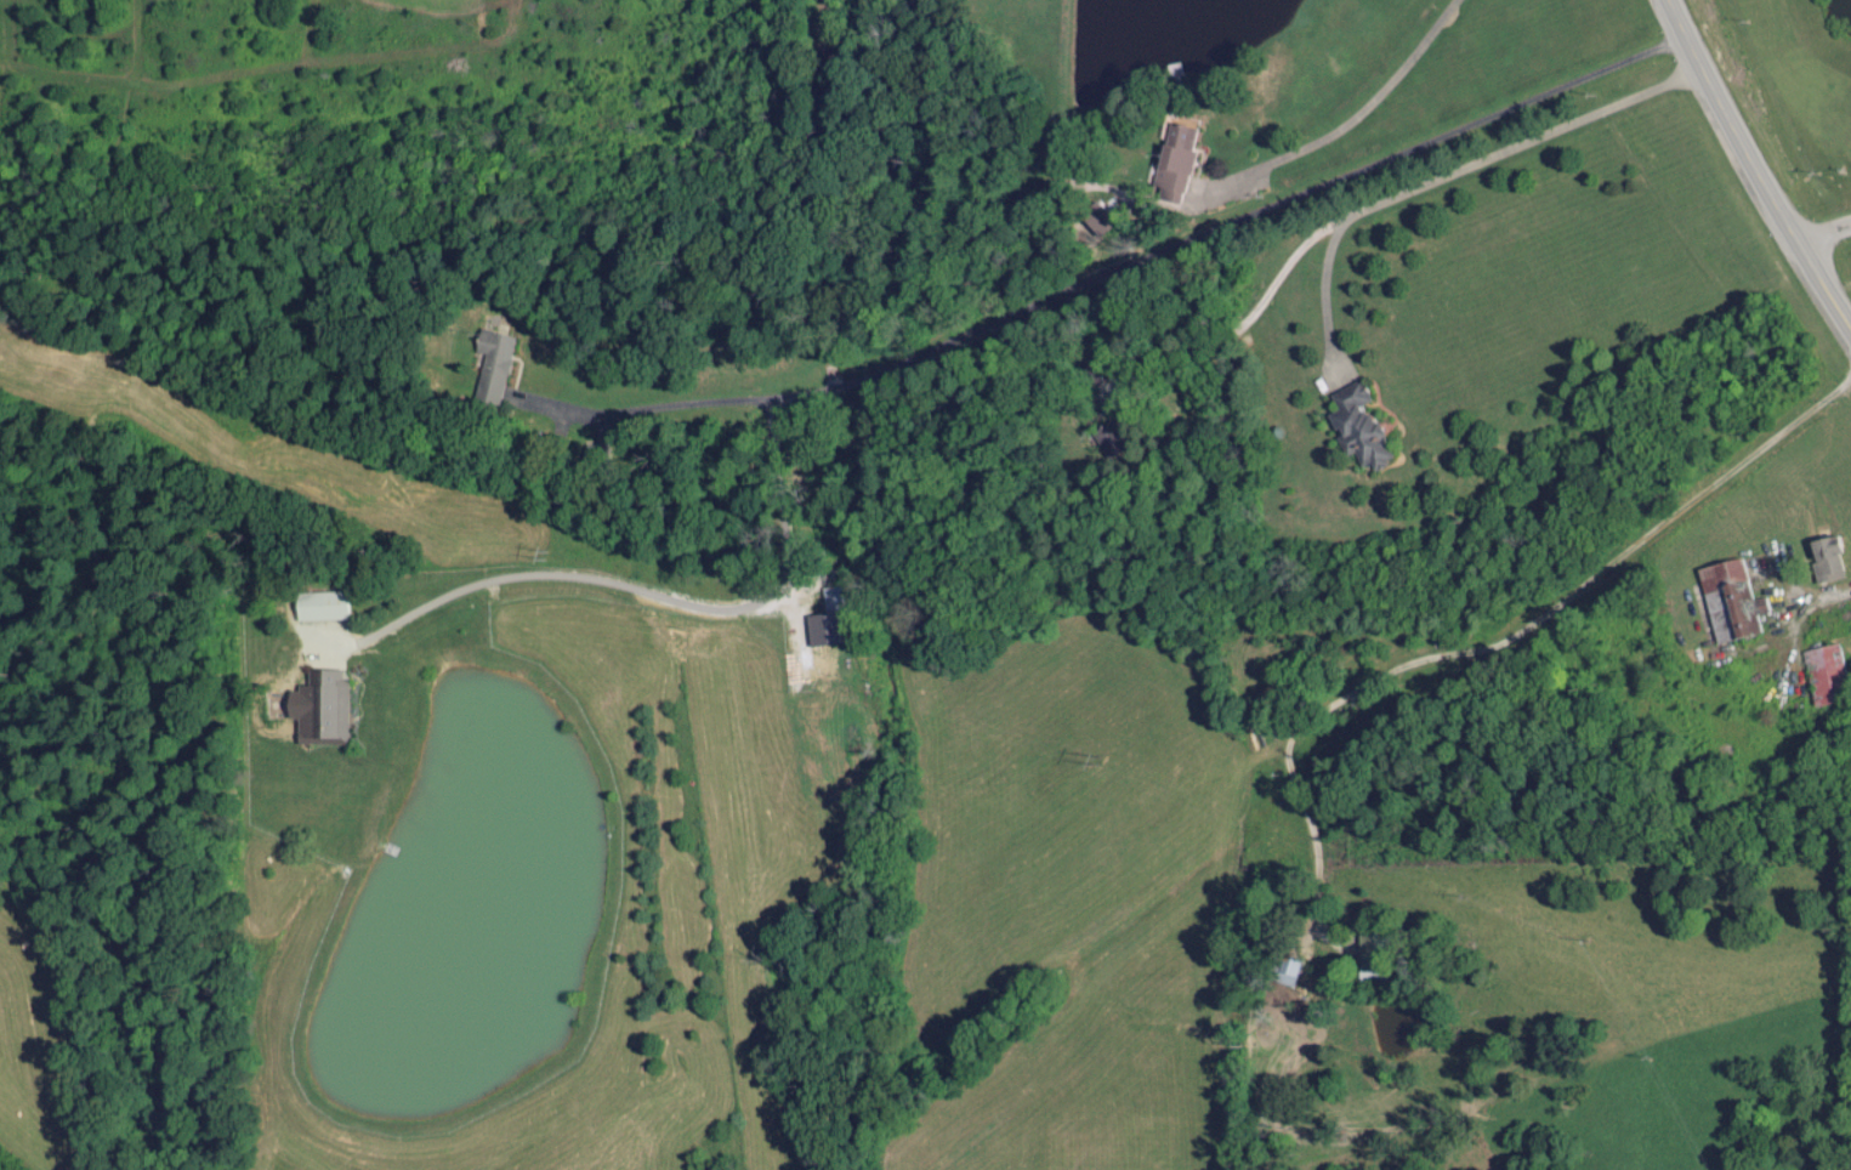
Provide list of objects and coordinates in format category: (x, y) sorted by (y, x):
road: (1358, 119)
building: (1174, 157)
road: (1753, 167)
road: (1455, 170)
road: (1822, 231)
road: (932, 352)
building: (492, 362)
road: (662, 409)
building: (1357, 428)
building: (1109, 435)
building: (1823, 560)
building: (831, 601)
building: (1727, 603)
building: (317, 607)
road: (1506, 642)
building: (1824, 676)
building: (324, 715)
building: (1370, 959)
building: (1281, 970)

